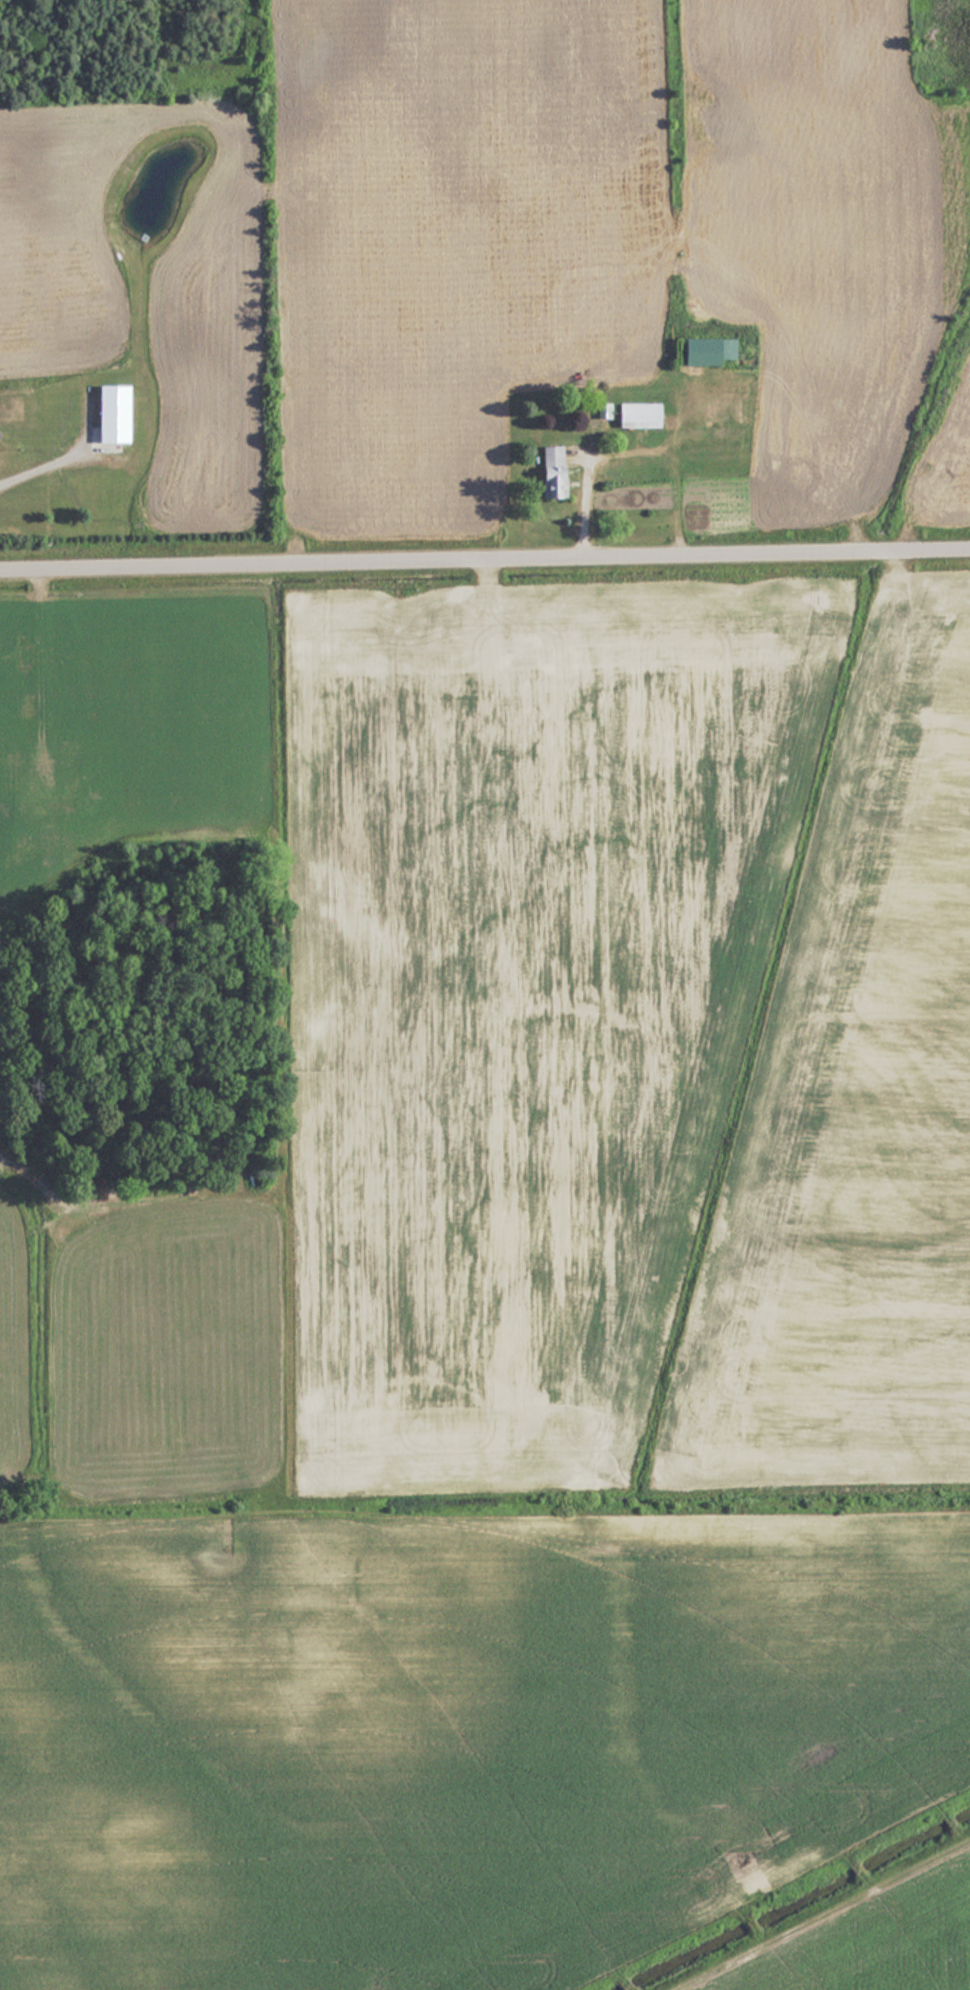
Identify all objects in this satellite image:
building: (703, 351)
building: (109, 413)
building: (634, 415)
building: (549, 472)
road: (485, 564)

